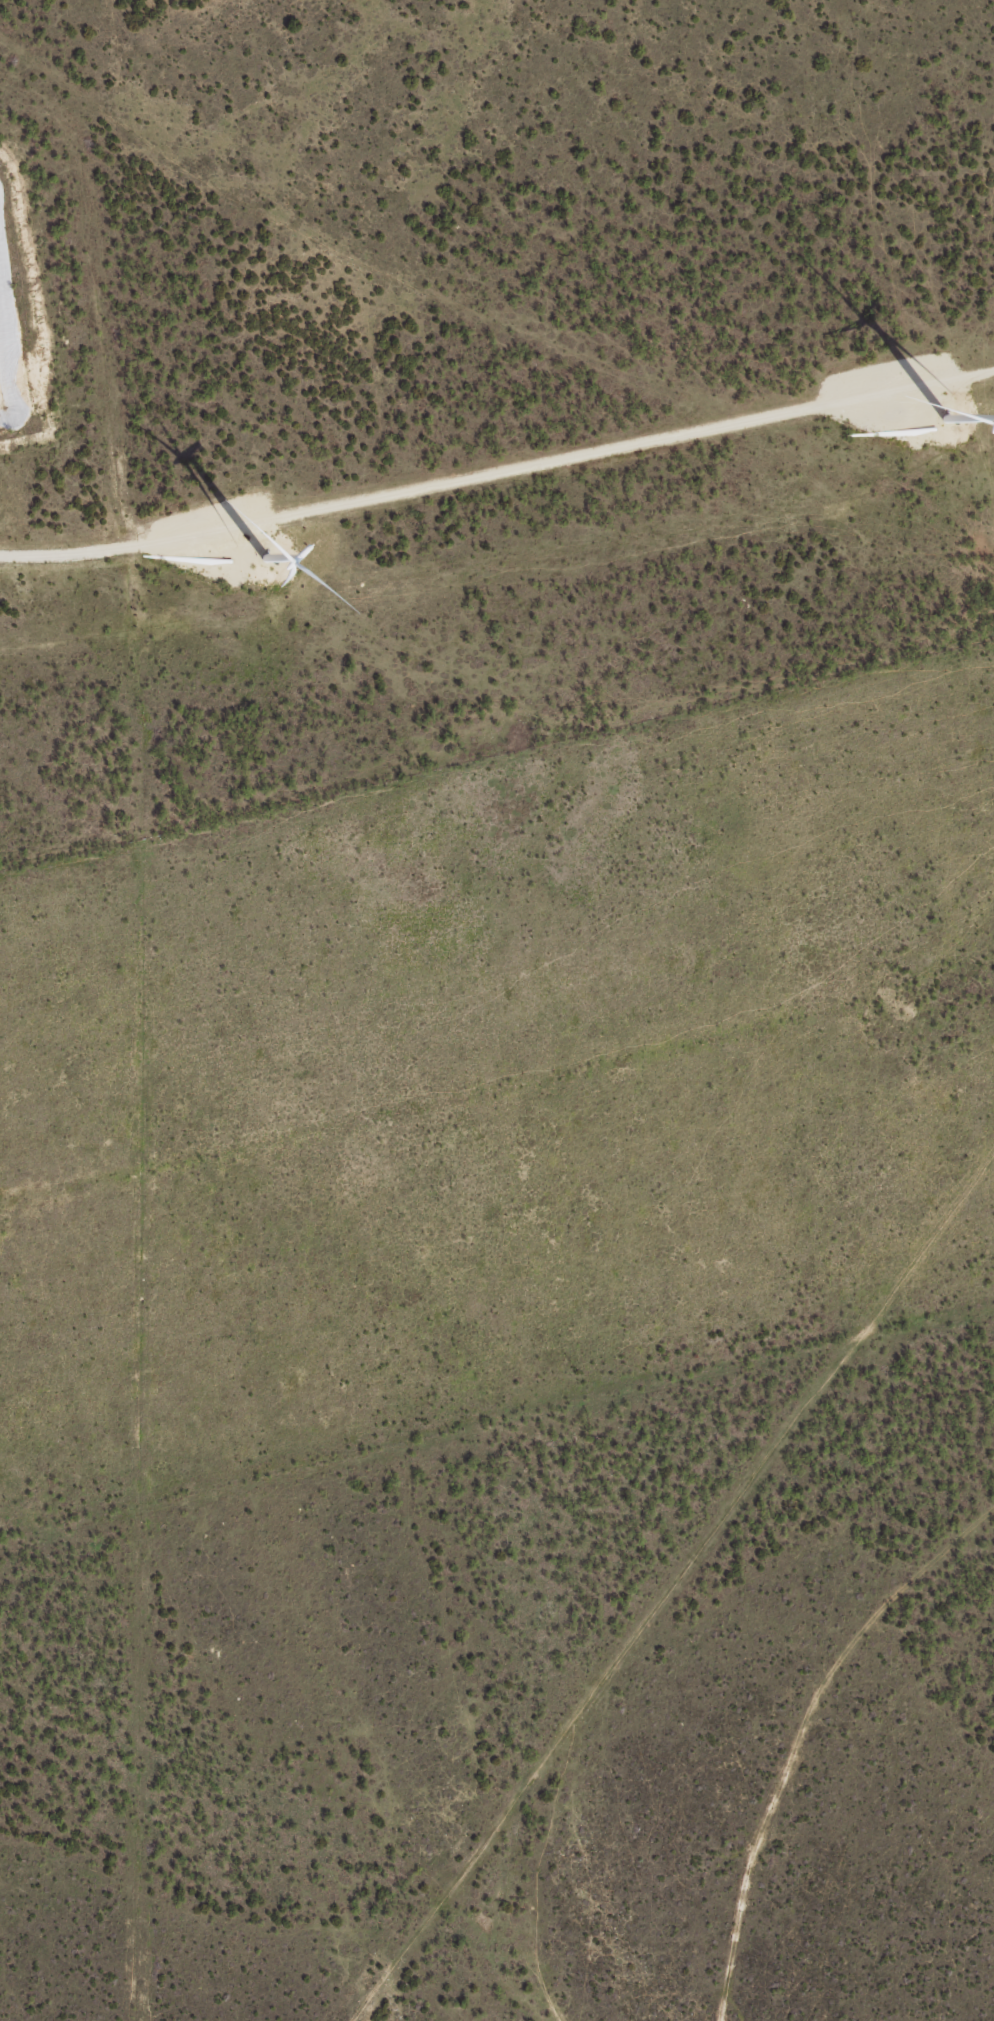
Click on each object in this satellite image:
wind turbine: (957, 405)
wind turbine: (247, 567)
road: (840, 1807)

